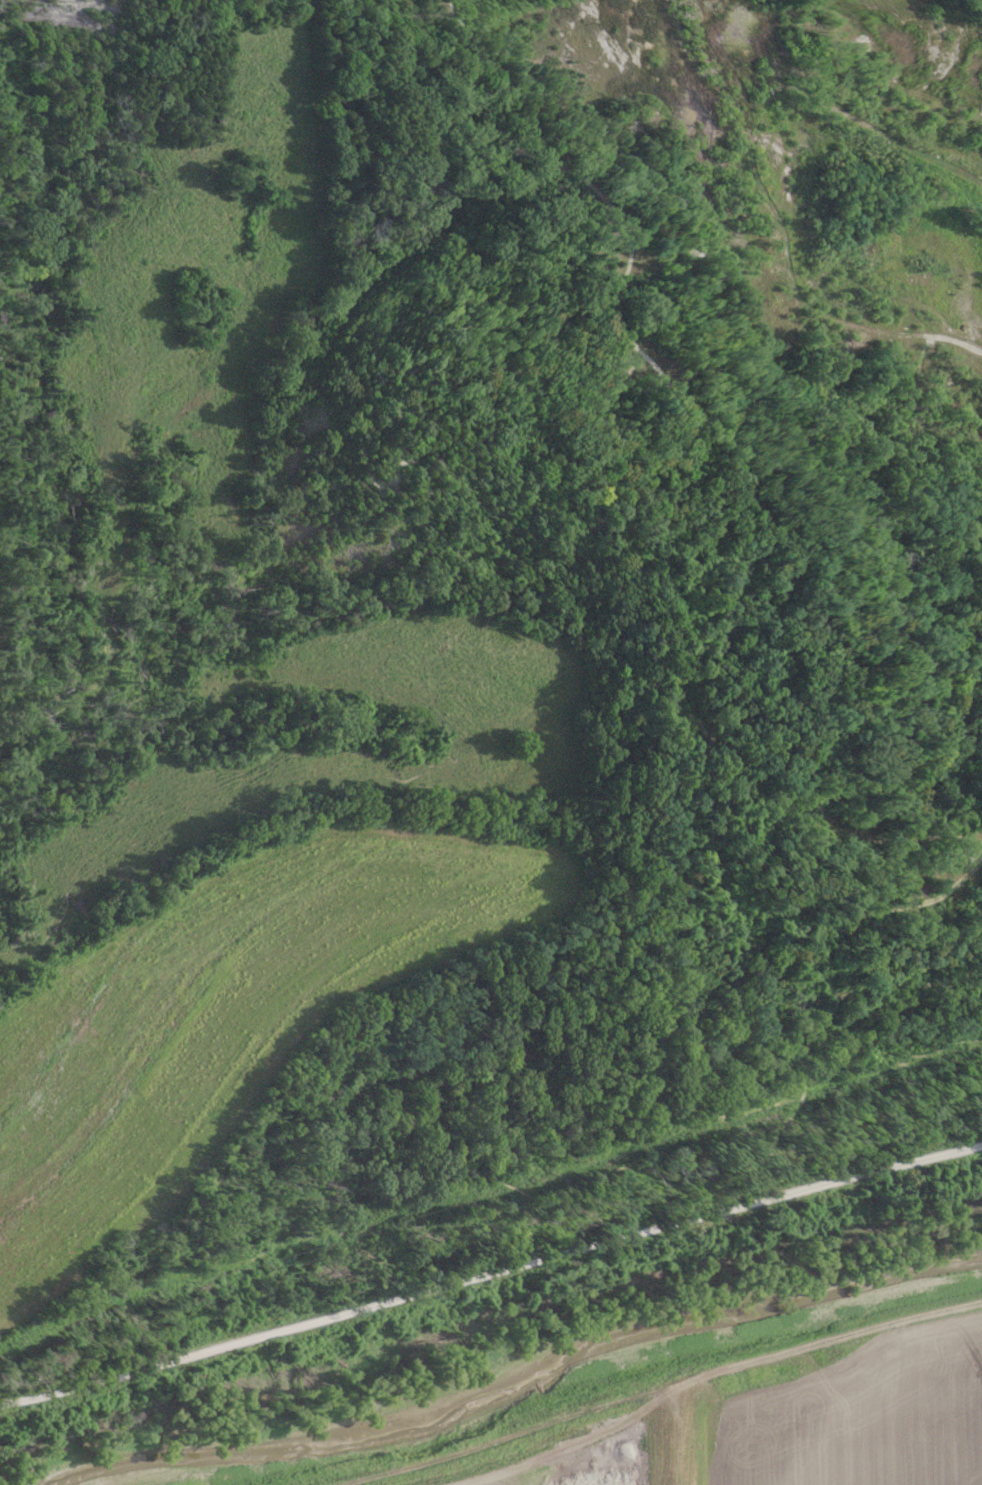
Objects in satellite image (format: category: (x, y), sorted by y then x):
road: (760, 183)
road: (753, 503)
park: (627, 585)
road: (869, 913)
road: (702, 992)
road: (524, 1202)
road: (490, 1273)
road: (679, 1438)

